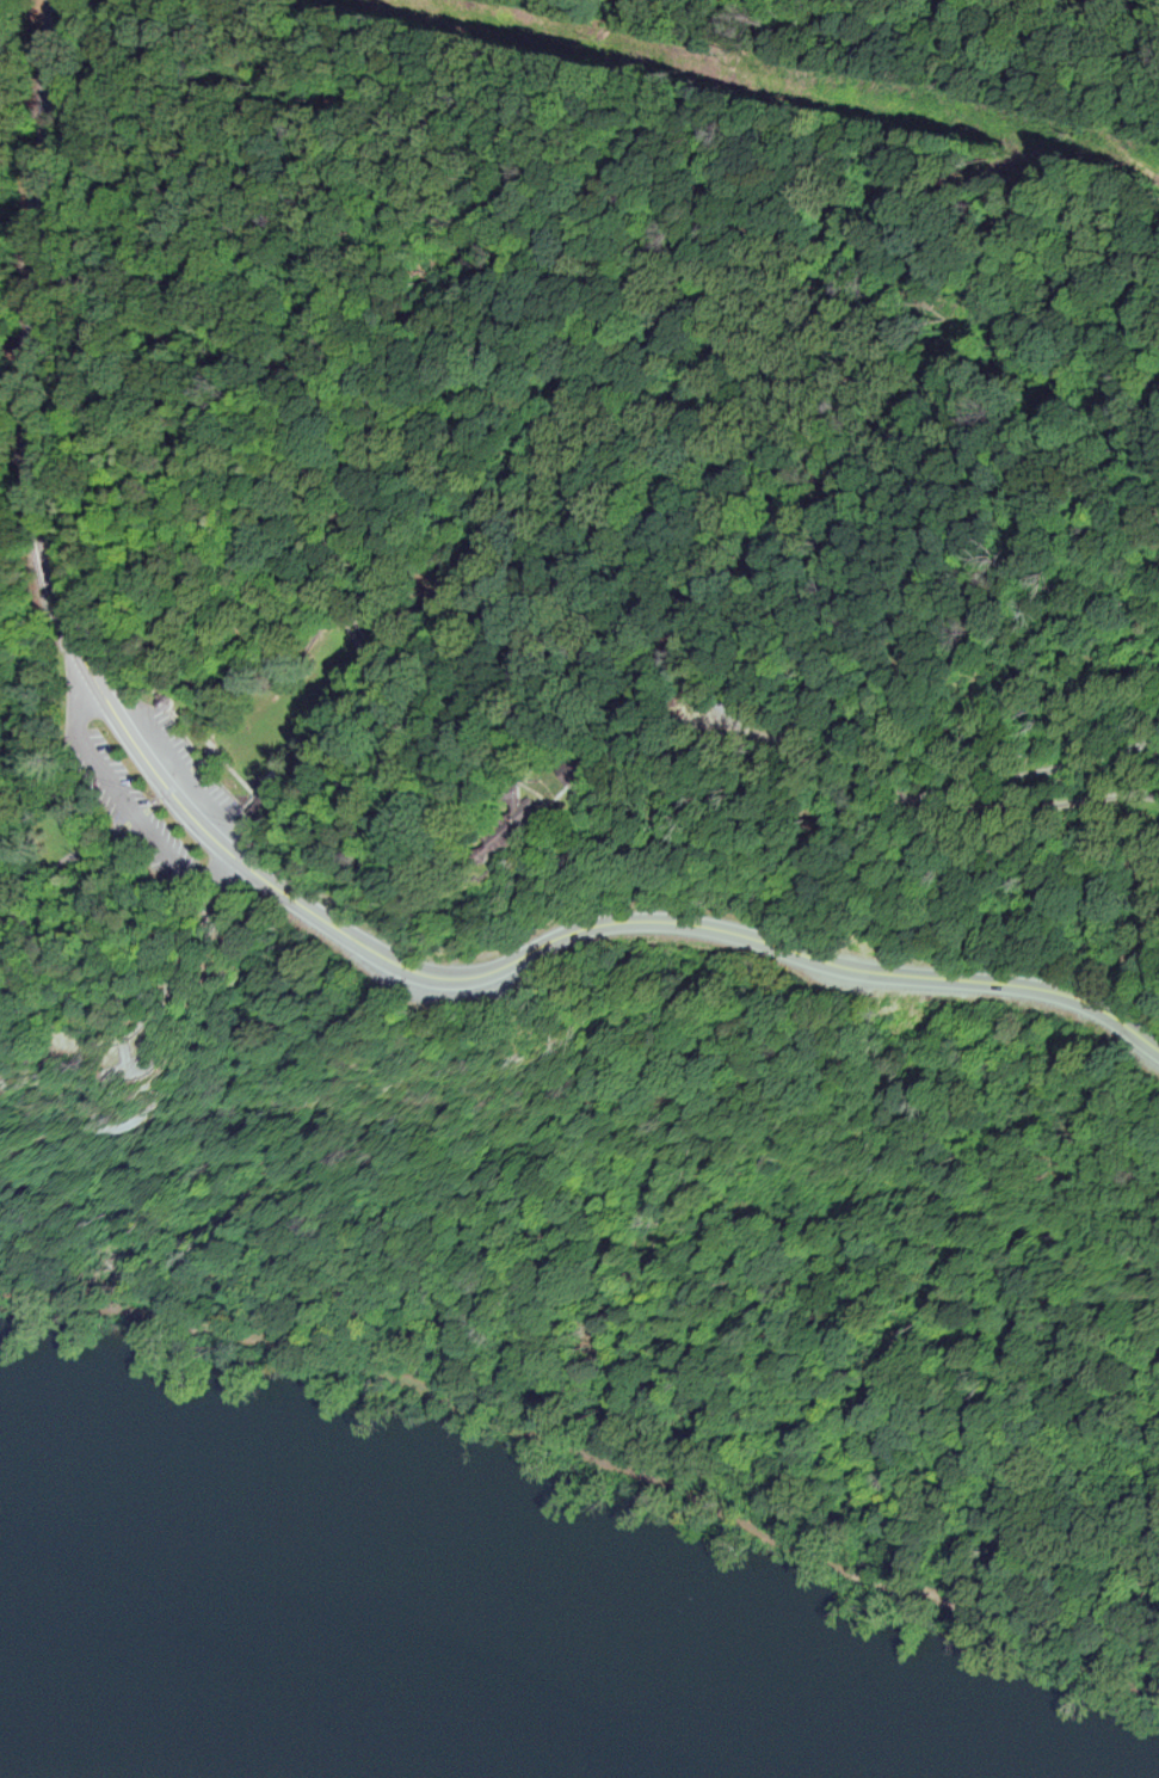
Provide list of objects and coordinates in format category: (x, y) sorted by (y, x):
road: (27, 107)
road: (12, 136)
road: (789, 492)
road: (617, 513)
road: (408, 598)
road: (584, 611)
road: (45, 666)
road: (174, 708)
road: (420, 731)
road: (209, 742)
road: (203, 761)
road: (186, 768)
road: (1042, 769)
road: (867, 777)
road: (242, 805)
road: (154, 813)
road: (359, 923)
road: (45, 1010)
park: (584, 1085)
road: (590, 1148)
road: (592, 1453)
river: (383, 1645)

